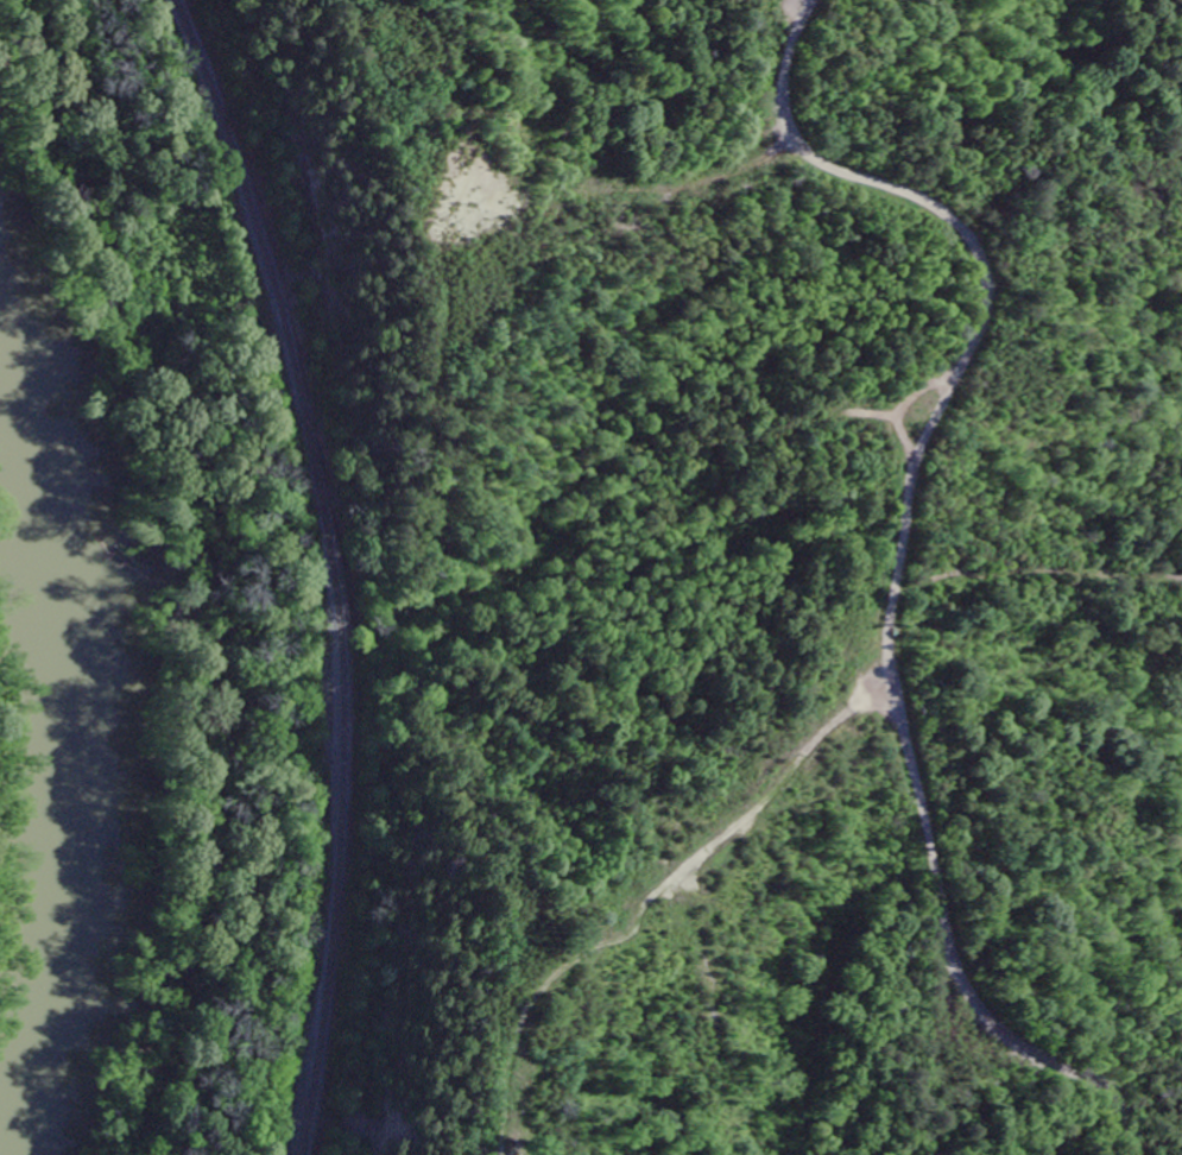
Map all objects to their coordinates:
road: (898, 556)
railway: (330, 568)
river: (87, 744)

